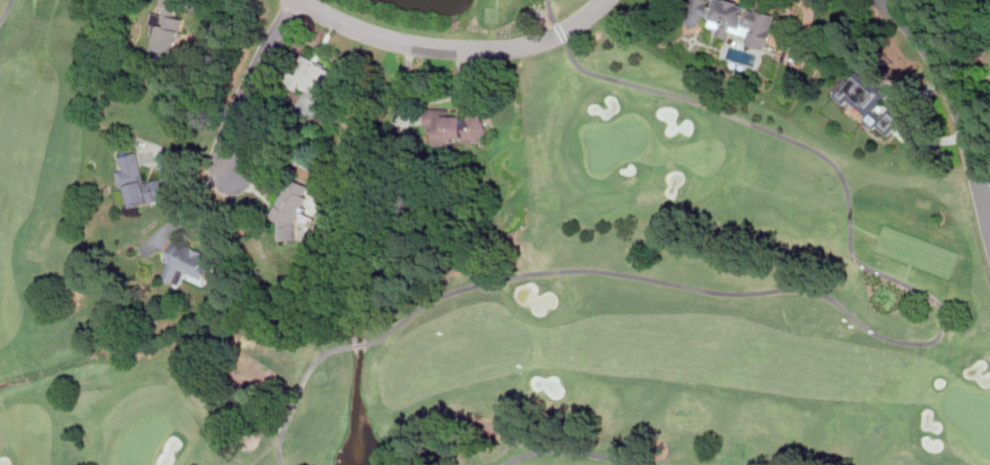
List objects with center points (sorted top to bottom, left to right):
road: (5, 9)
building: (734, 20)
building: (169, 27)
road: (806, 28)
road: (453, 47)
building: (312, 76)
road: (251, 82)
building: (869, 101)
road: (963, 111)
park: (615, 142)
building: (140, 182)
building: (188, 264)
park: (530, 290)
road: (924, 342)
road: (360, 345)
road: (297, 391)
park: (971, 414)
park: (144, 442)
road: (568, 450)

